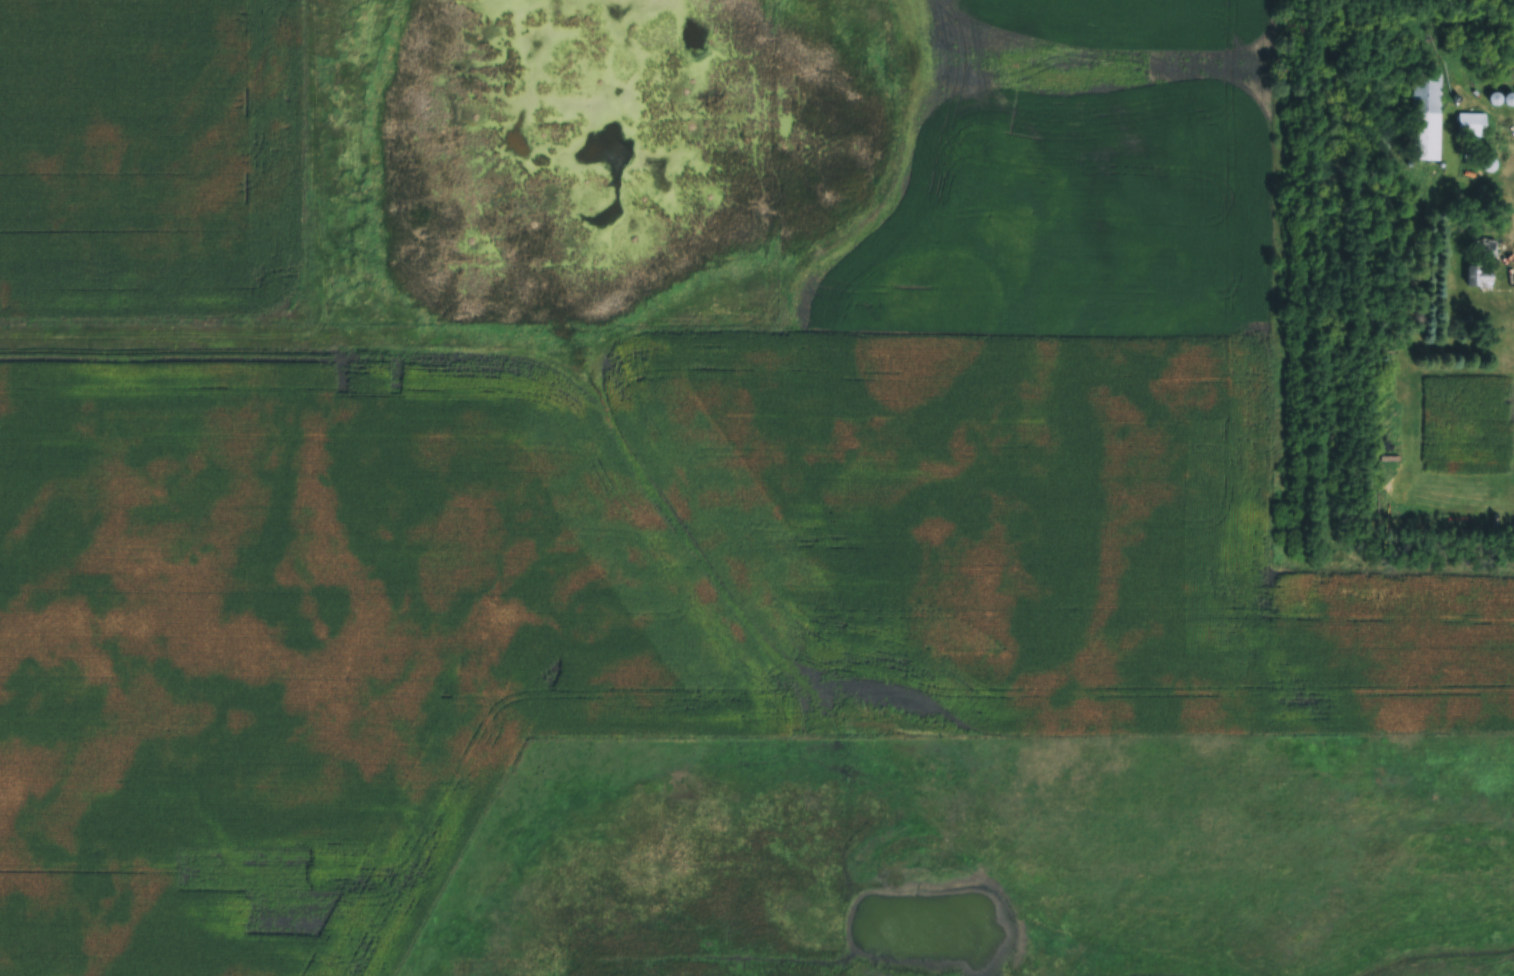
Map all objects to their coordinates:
building: (1423, 114)
building: (1468, 125)
building: (1484, 164)
building: (1479, 266)

